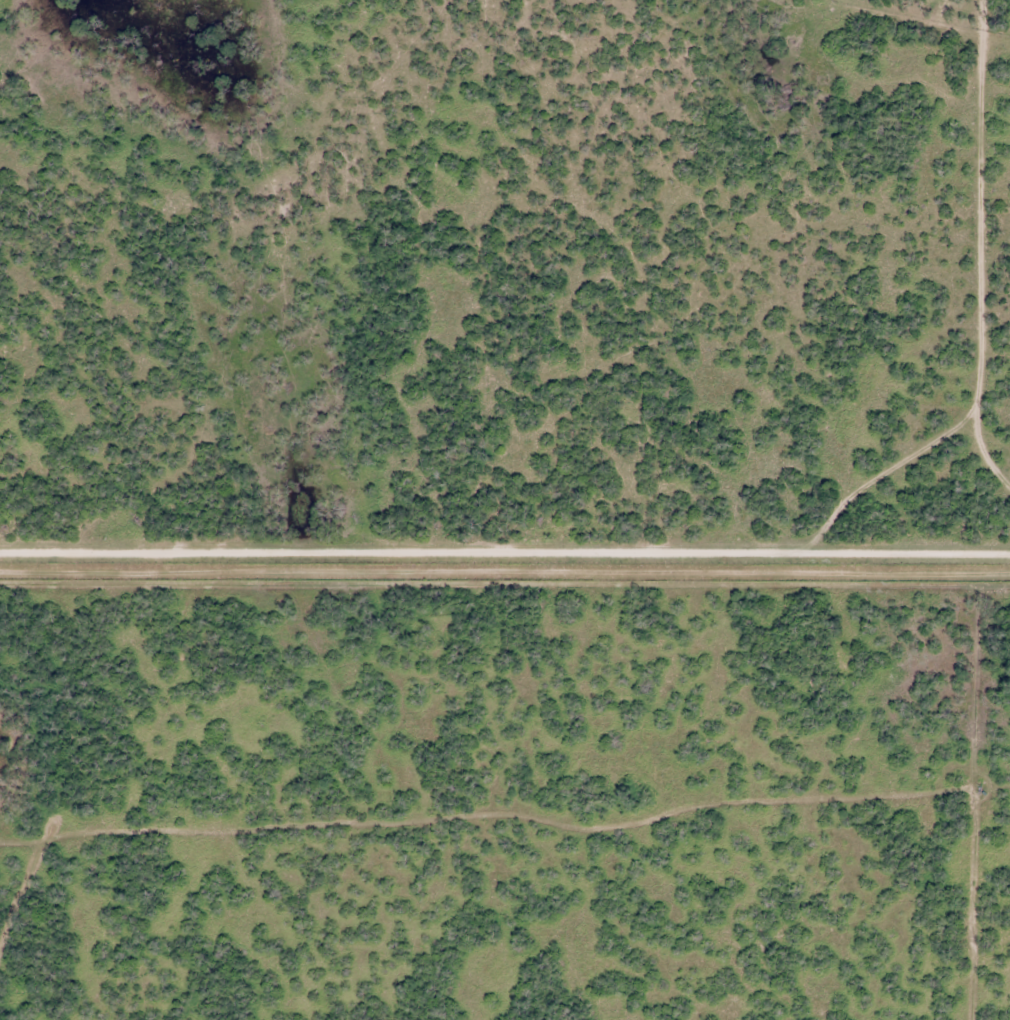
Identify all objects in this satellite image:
building: (922, 0)
road: (505, 561)

